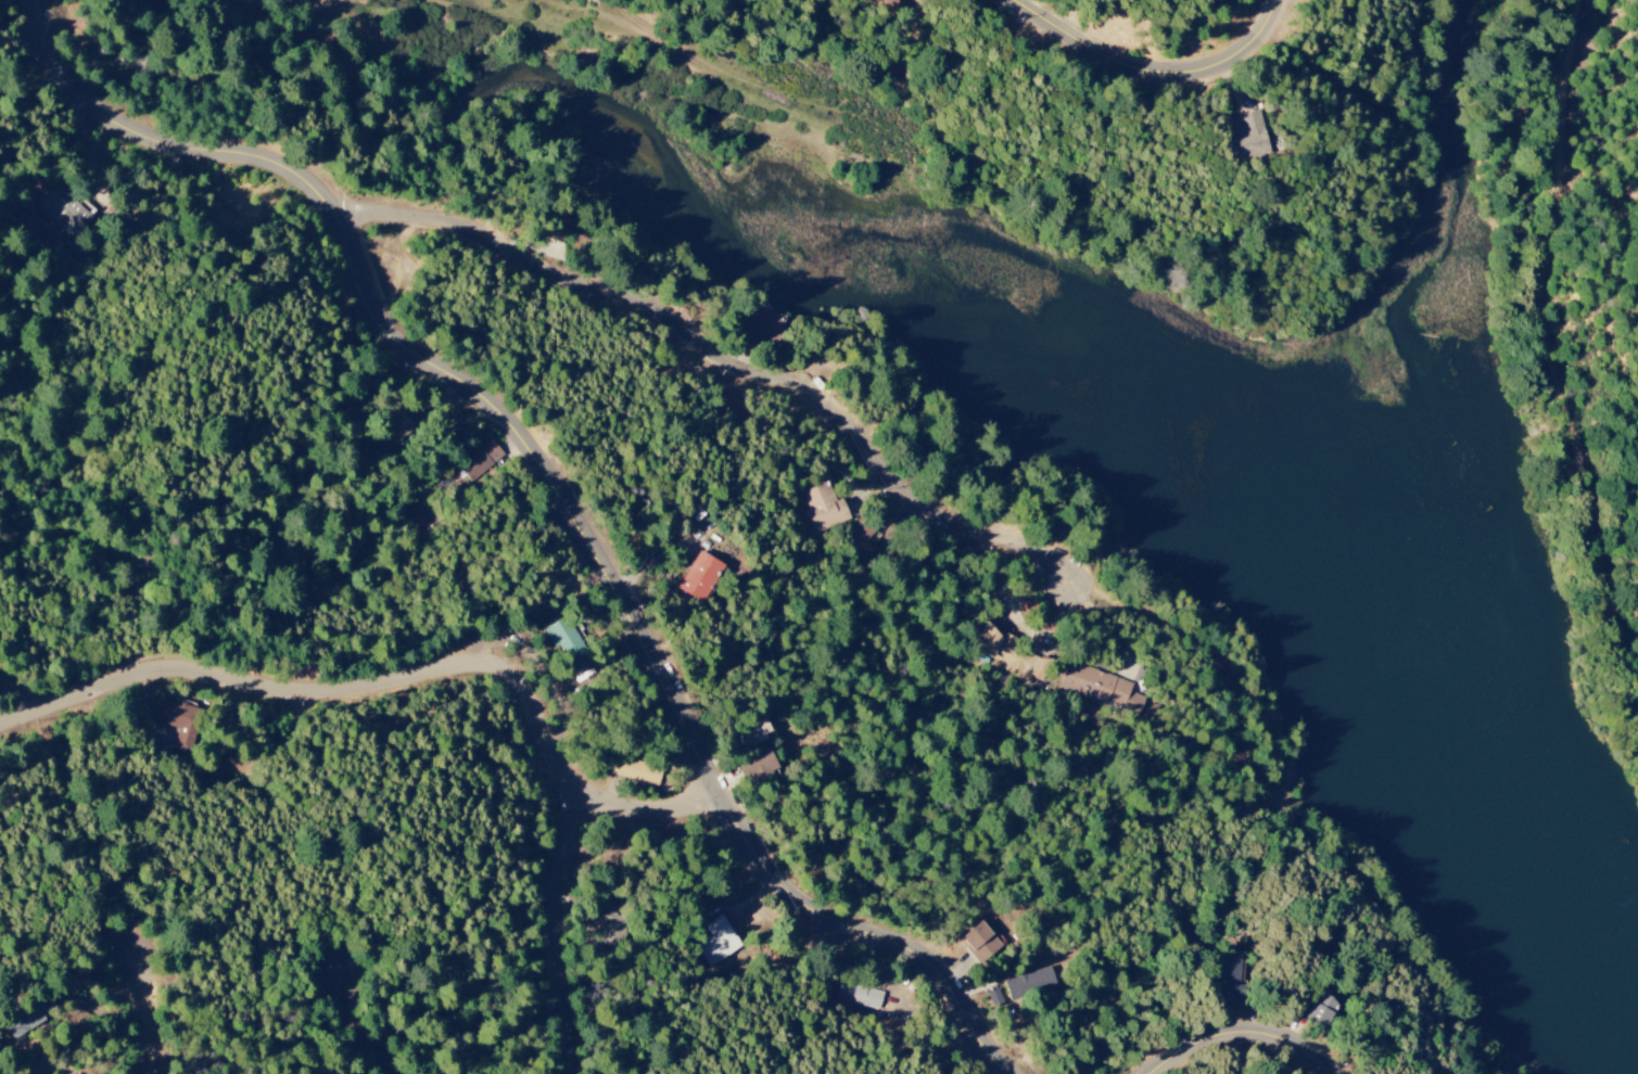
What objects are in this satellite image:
building: (889, 2)
road: (1165, 72)
building: (1247, 138)
building: (62, 212)
road: (1556, 316)
building: (759, 324)
road: (735, 360)
building: (396, 429)
building: (480, 461)
road: (563, 485)
building: (822, 506)
building: (860, 538)
building: (698, 576)
building: (567, 645)
building: (1007, 655)
road: (399, 680)
building: (1100, 687)
building: (178, 723)
building: (757, 765)
building: (635, 770)
building: (607, 920)
road: (555, 933)
building: (980, 941)
building: (718, 942)
building: (1227, 982)
building: (1029, 984)
building: (859, 995)
building: (1320, 1011)
road: (154, 1020)
building: (24, 1021)
road: (357, 1021)
road: (1260, 1030)

